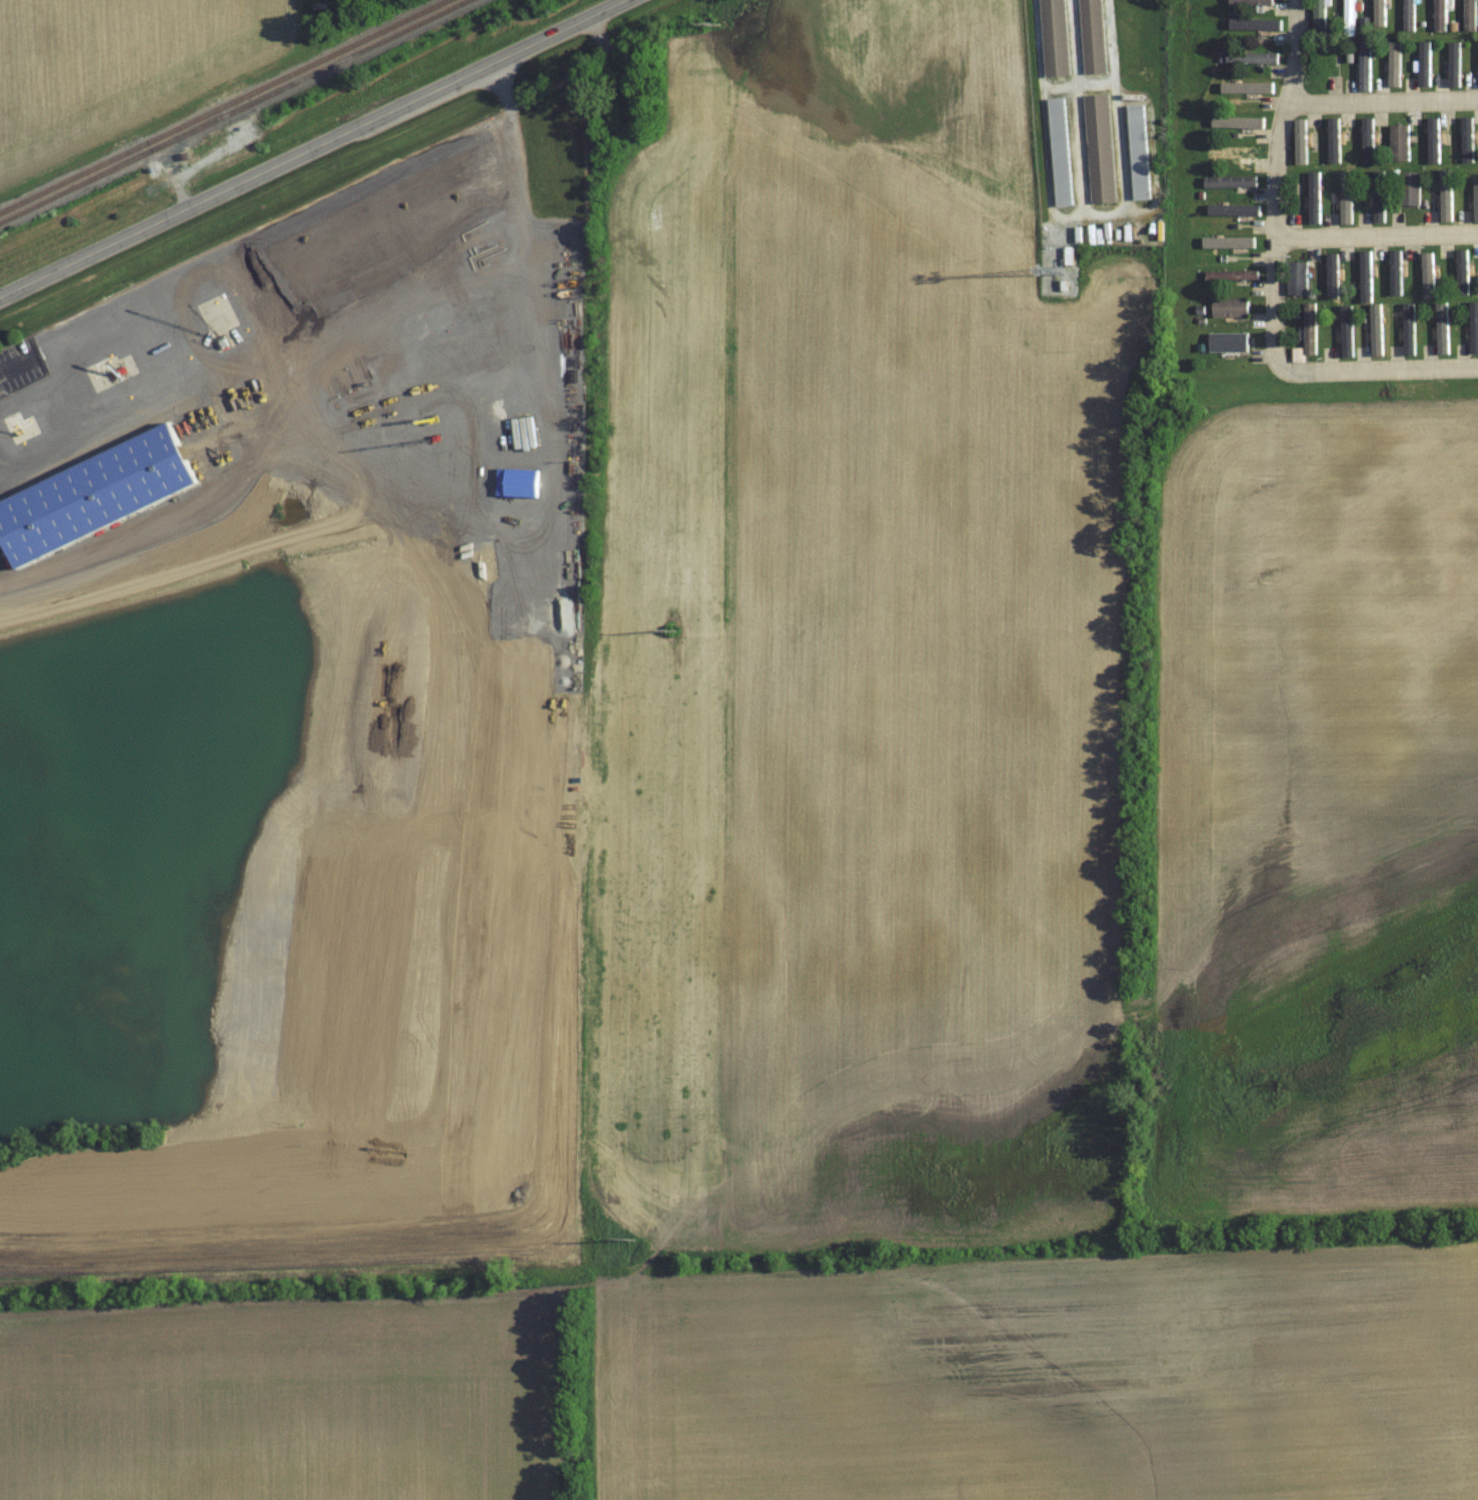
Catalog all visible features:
building: (1249, 3)
building: (1279, 9)
building: (1469, 13)
building: (1407, 15)
building: (1439, 15)
building: (1318, 17)
building: (1348, 18)
power tower: (728, 24)
building: (1091, 37)
building: (1053, 38)
building: (1250, 58)
building: (1363, 66)
road: (1386, 98)
railway: (221, 105)
railway: (231, 110)
building: (1398, 143)
building: (1333, 146)
road: (313, 148)
building: (1098, 149)
building: (1230, 151)
building: (1058, 152)
building: (1137, 152)
building: (1229, 181)
building: (1409, 189)
building: (1309, 199)
building: (1230, 214)
road: (1379, 232)
building: (1394, 273)
building: (1230, 275)
building: (1297, 278)
road: (1280, 279)
building: (1229, 308)
building: (1224, 342)
road: (16, 365)
building: (515, 482)
building: (93, 494)
power tower: (668, 631)
power tower: (641, 1241)

